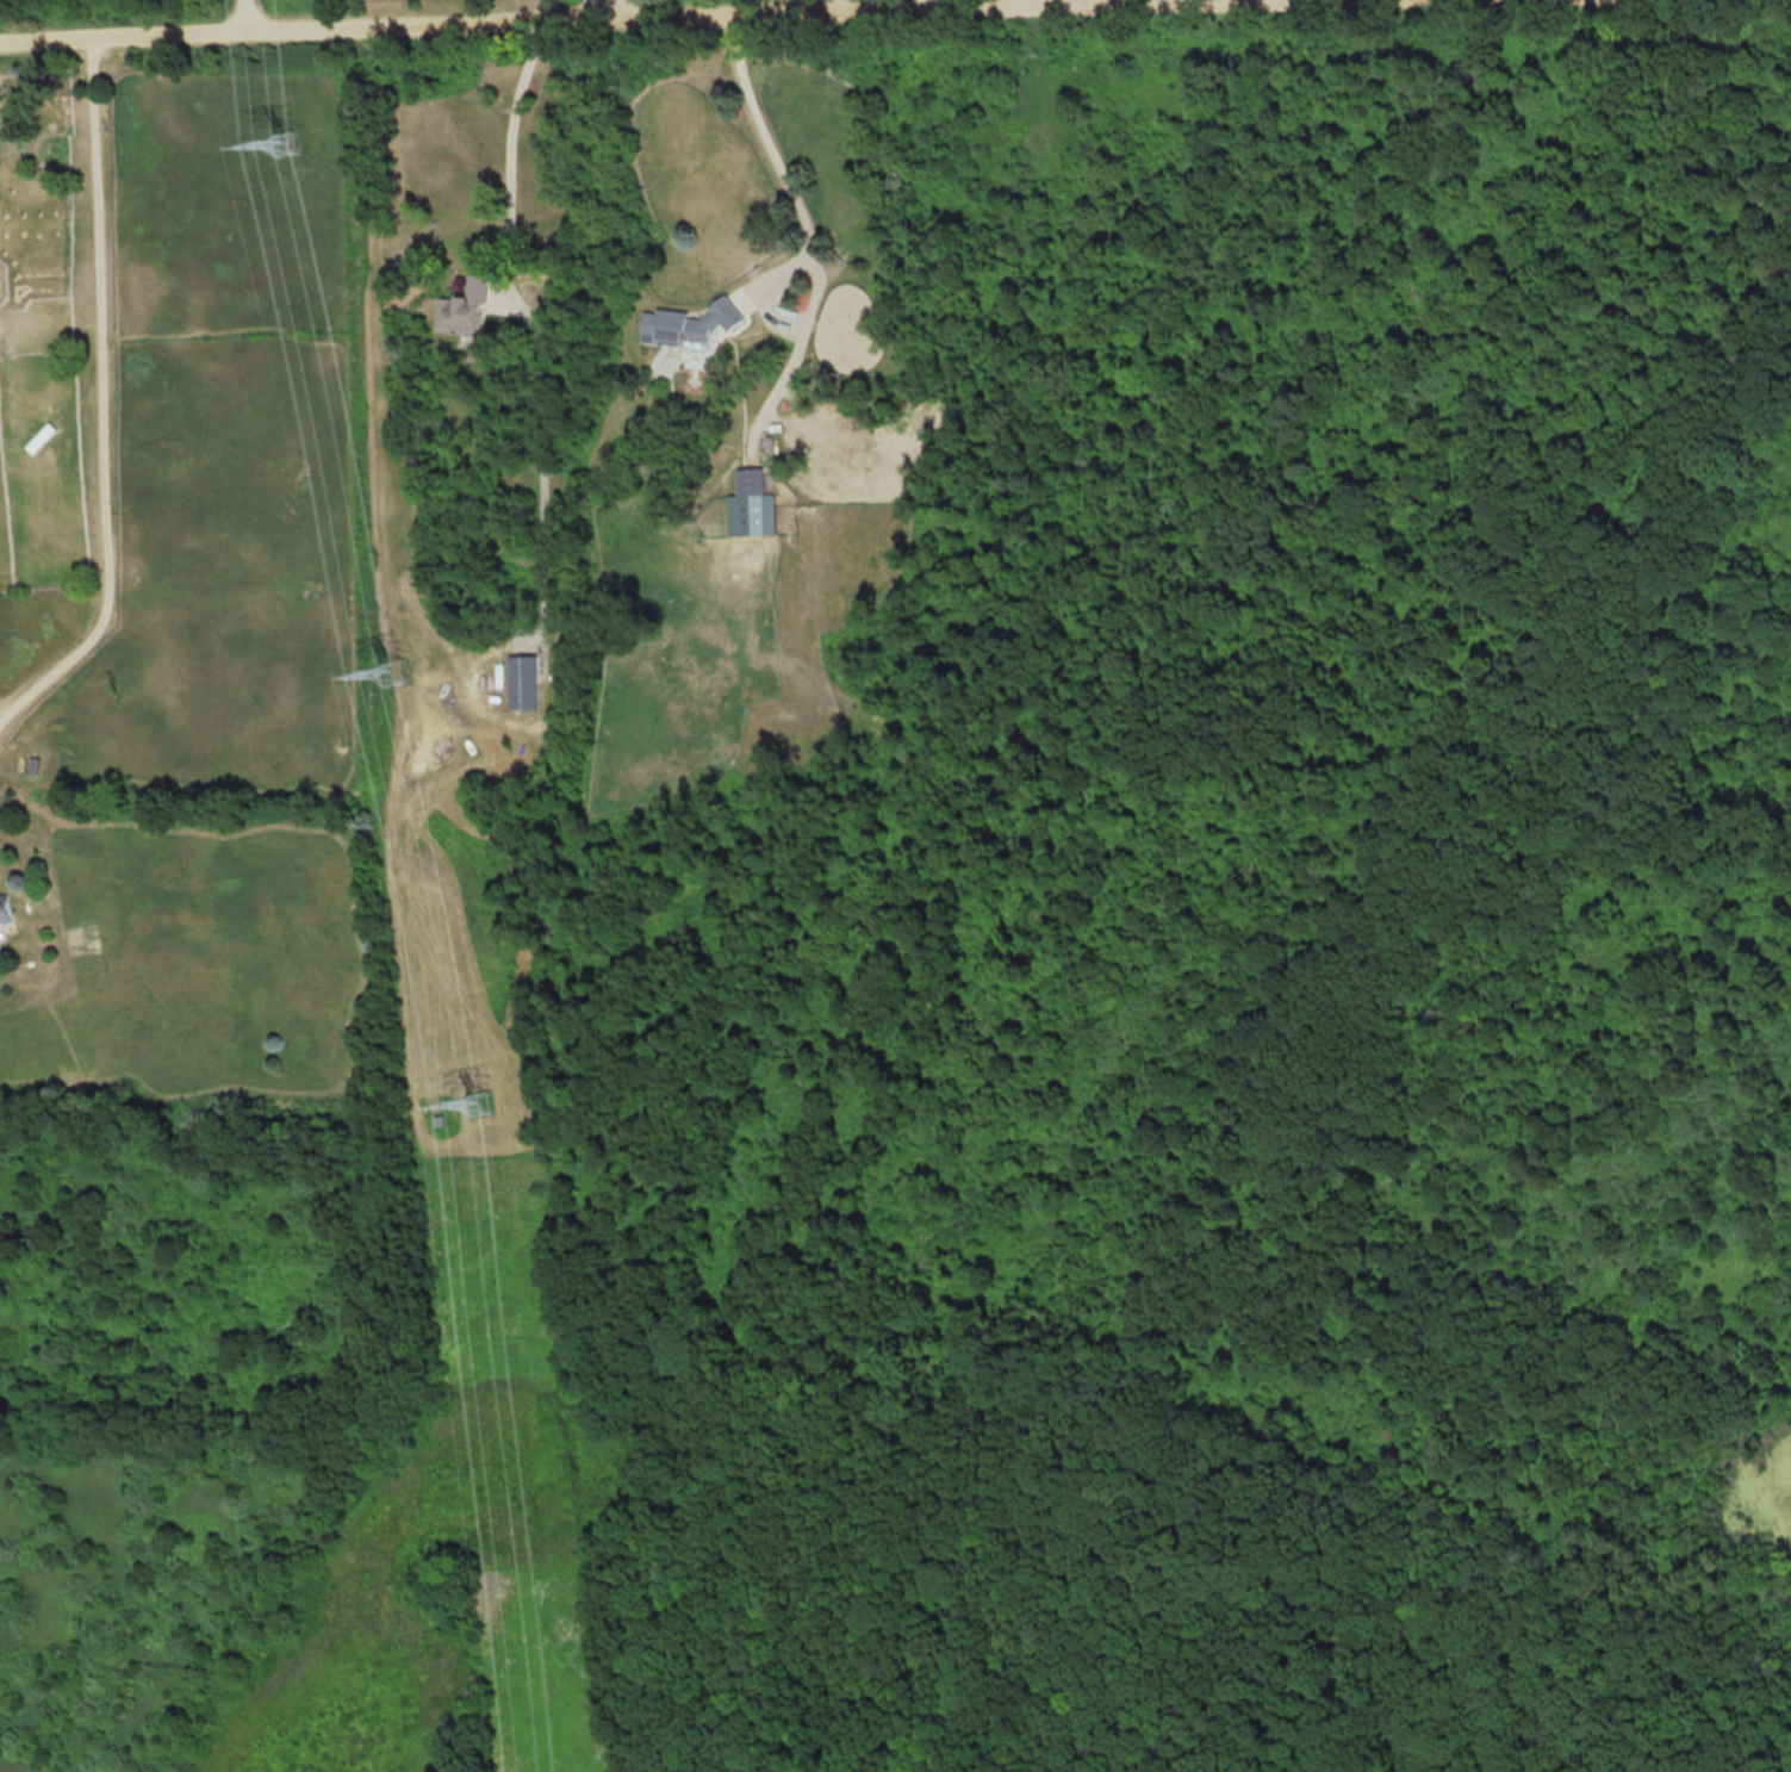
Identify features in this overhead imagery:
road: (914, 1)
park: (82, 2)
road: (832, 4)
road: (621, 6)
road: (586, 7)
road: (243, 12)
road: (518, 15)
power tower: (286, 142)
road: (776, 160)
building: (465, 310)
road: (528, 311)
building: (689, 325)
road: (92, 388)
building: (42, 439)
building: (751, 483)
power tower: (391, 672)
building: (523, 682)
building: (5, 912)
park: (1090, 1037)
power tower: (479, 1101)

